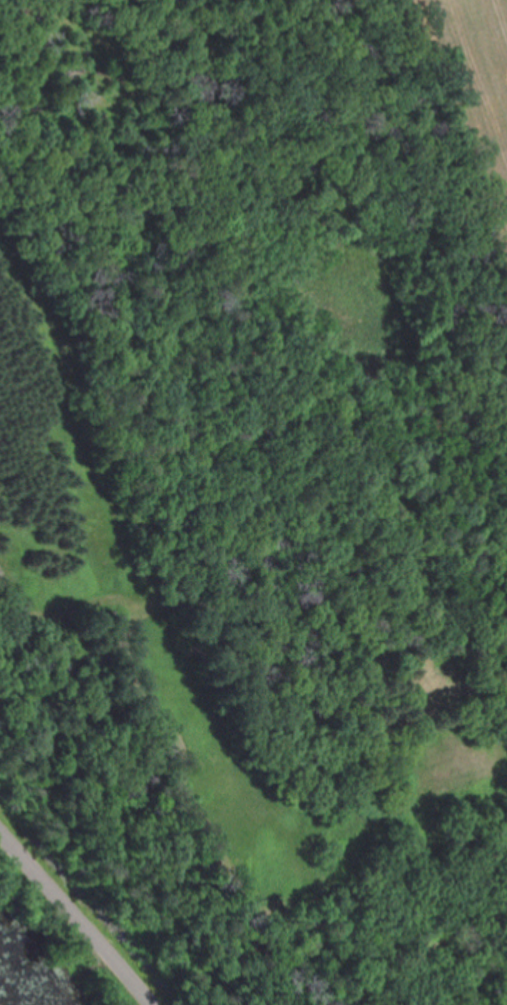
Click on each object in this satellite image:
road: (78, 916)

